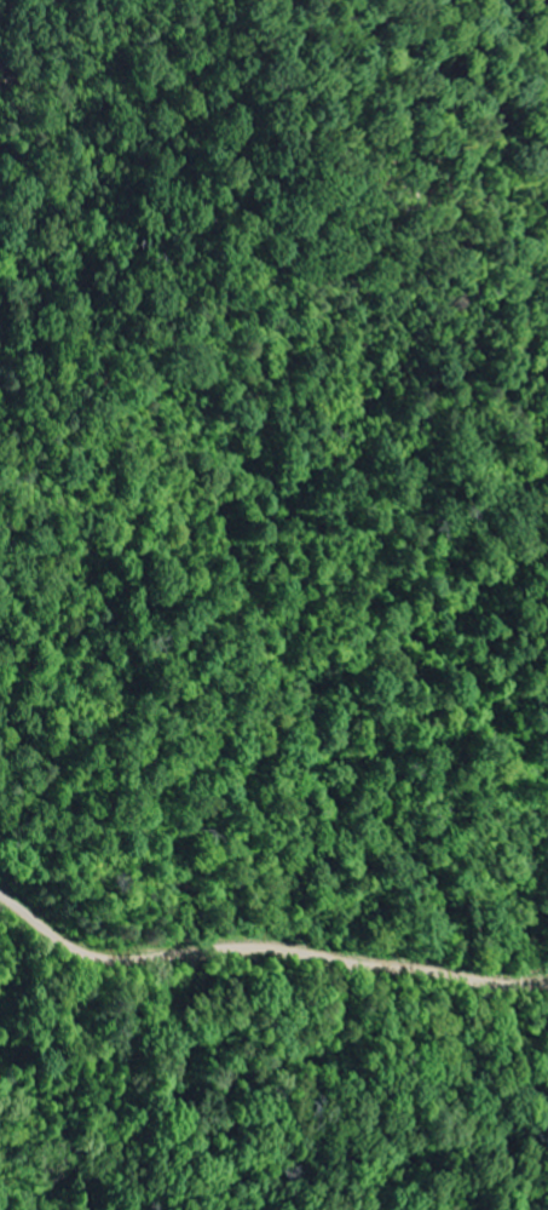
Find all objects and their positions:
road: (263, 946)

